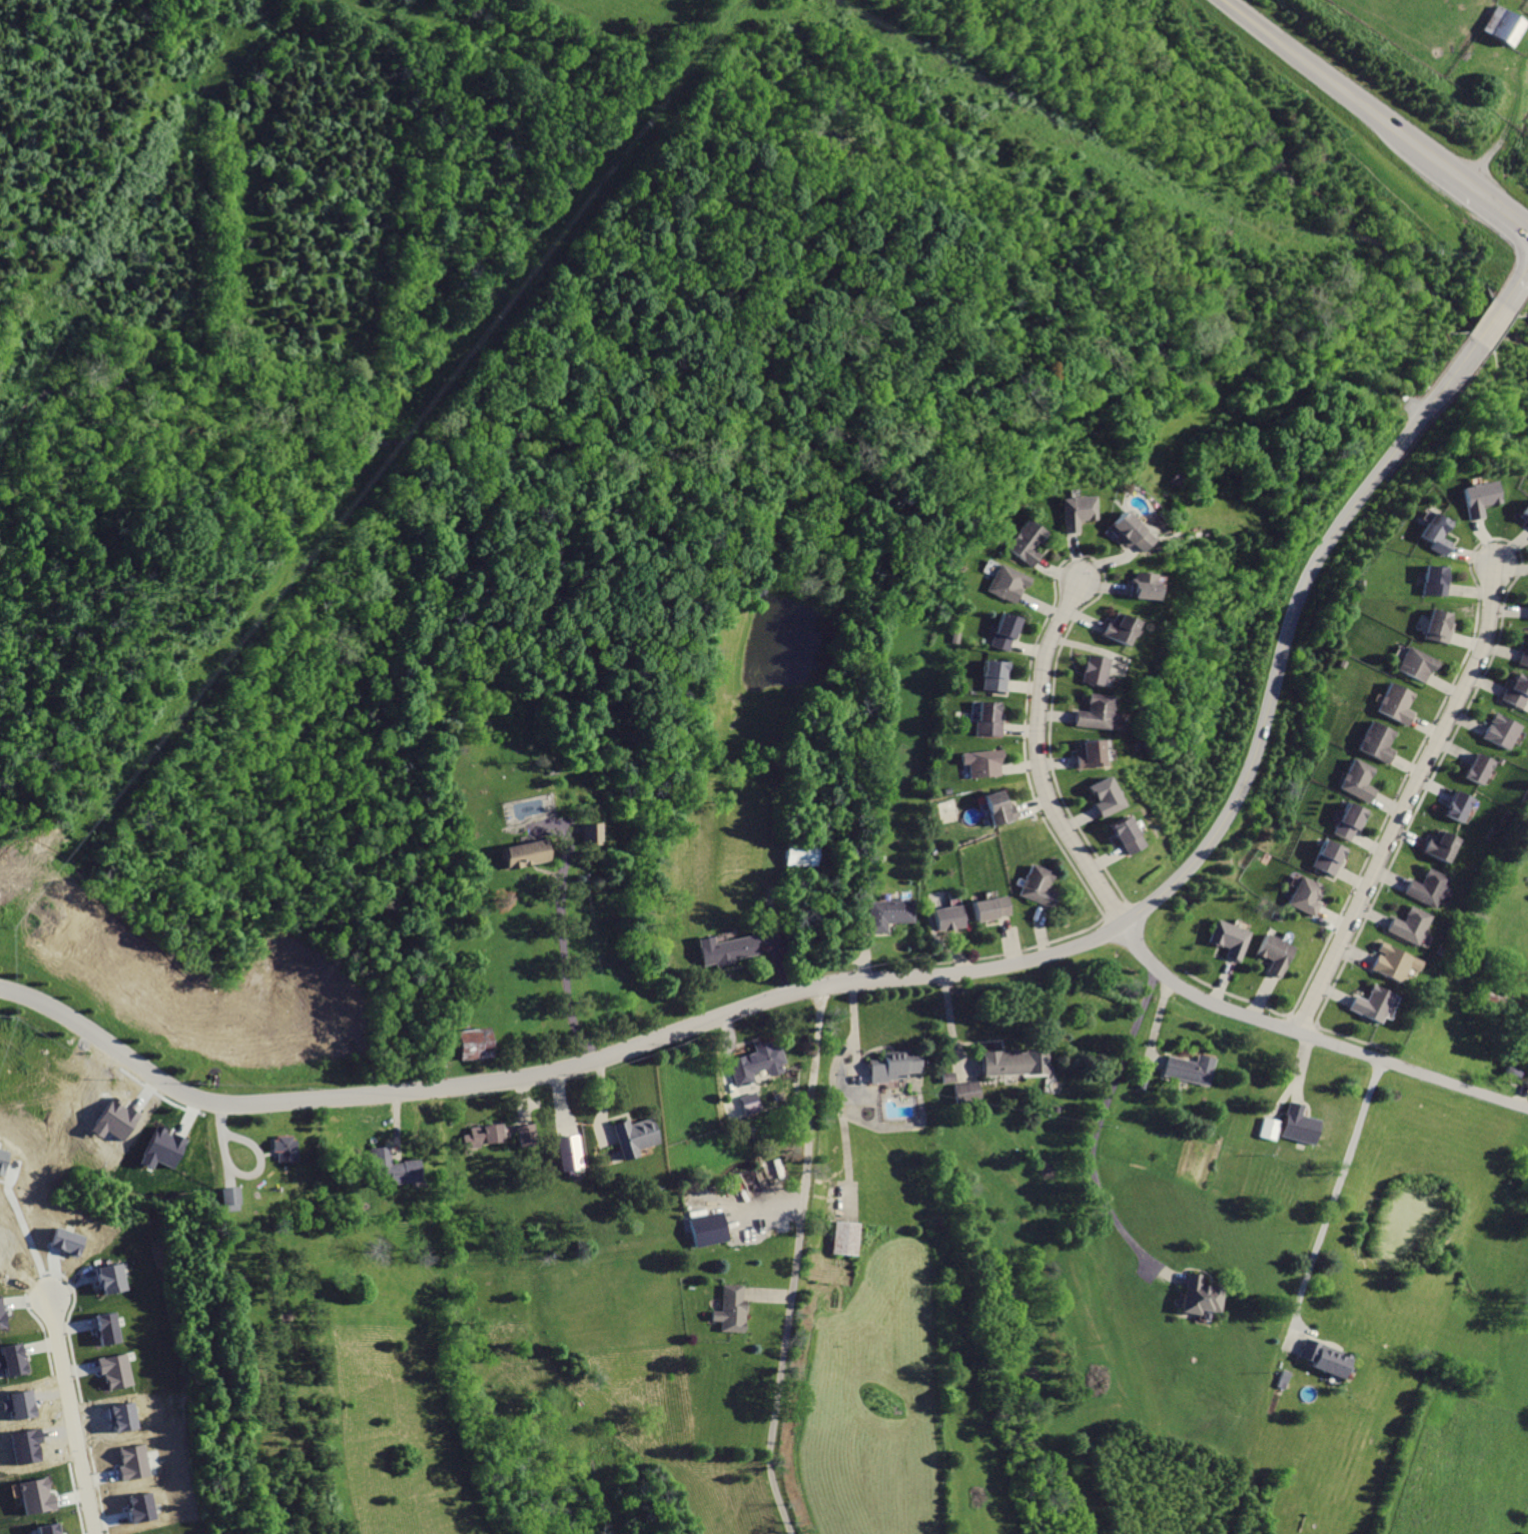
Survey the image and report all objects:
building: (1503, 26)
crop: (1424, 76)
road: (1334, 86)
road: (1489, 200)
road: (1517, 291)
road: (1499, 316)
road: (1486, 334)
building: (1473, 497)
building: (1071, 512)
building: (1522, 513)
building: (1126, 531)
building: (1433, 535)
building: (1021, 543)
building: (1432, 579)
building: (1004, 582)
building: (1139, 585)
building: (1436, 626)
building: (1118, 628)
building: (1003, 631)
road: (1287, 631)
building: (1522, 656)
building: (1415, 663)
building: (1093, 669)
building: (994, 675)
building: (1515, 692)
building: (1394, 703)
building: (1093, 712)
building: (987, 718)
building: (1500, 731)
building: (1376, 741)
building: (1085, 753)
building: (983, 761)
road: (1038, 763)
building: (1478, 769)
building: (1356, 780)
building: (1100, 796)
road: (1408, 802)
building: (1460, 806)
building: (997, 807)
building: (1346, 820)
building: (589, 833)
building: (1119, 834)
building: (1442, 845)
building: (525, 853)
building: (799, 853)
building: (1324, 857)
building: (1035, 886)
building: (1427, 888)
building: (1302, 895)
building: (987, 907)
building: (886, 912)
building: (946, 917)
building: (1408, 926)
building: (1225, 939)
building: (723, 949)
road: (561, 953)
building: (1273, 955)
building: (1392, 962)
building: (1367, 1004)
road: (1310, 1038)
building: (473, 1042)
building: (1016, 1061)
building: (755, 1062)
building: (894, 1066)
building: (1188, 1068)
road: (554, 1070)
building: (950, 1076)
building: (968, 1091)
building: (748, 1103)
road: (1100, 1121)
building: (1297, 1124)
building: (1267, 1128)
building: (484, 1134)
building: (527, 1134)
building: (633, 1135)
building: (160, 1147)
building: (283, 1147)
building: (569, 1152)
building: (3, 1159)
building: (392, 1167)
building: (229, 1198)
road: (1331, 1198)
building: (707, 1228)
building: (843, 1237)
road: (21, 1241)
building: (66, 1241)
road: (793, 1262)
building: (111, 1277)
building: (1199, 1295)
building: (730, 1308)
building: (1, 1317)
building: (110, 1328)
building: (1323, 1357)
building: (12, 1358)
building: (118, 1370)
road: (75, 1417)
building: (135, 1462)
building: (37, 1496)
building: (141, 1507)
building: (48, 1528)
building: (162, 1533)

